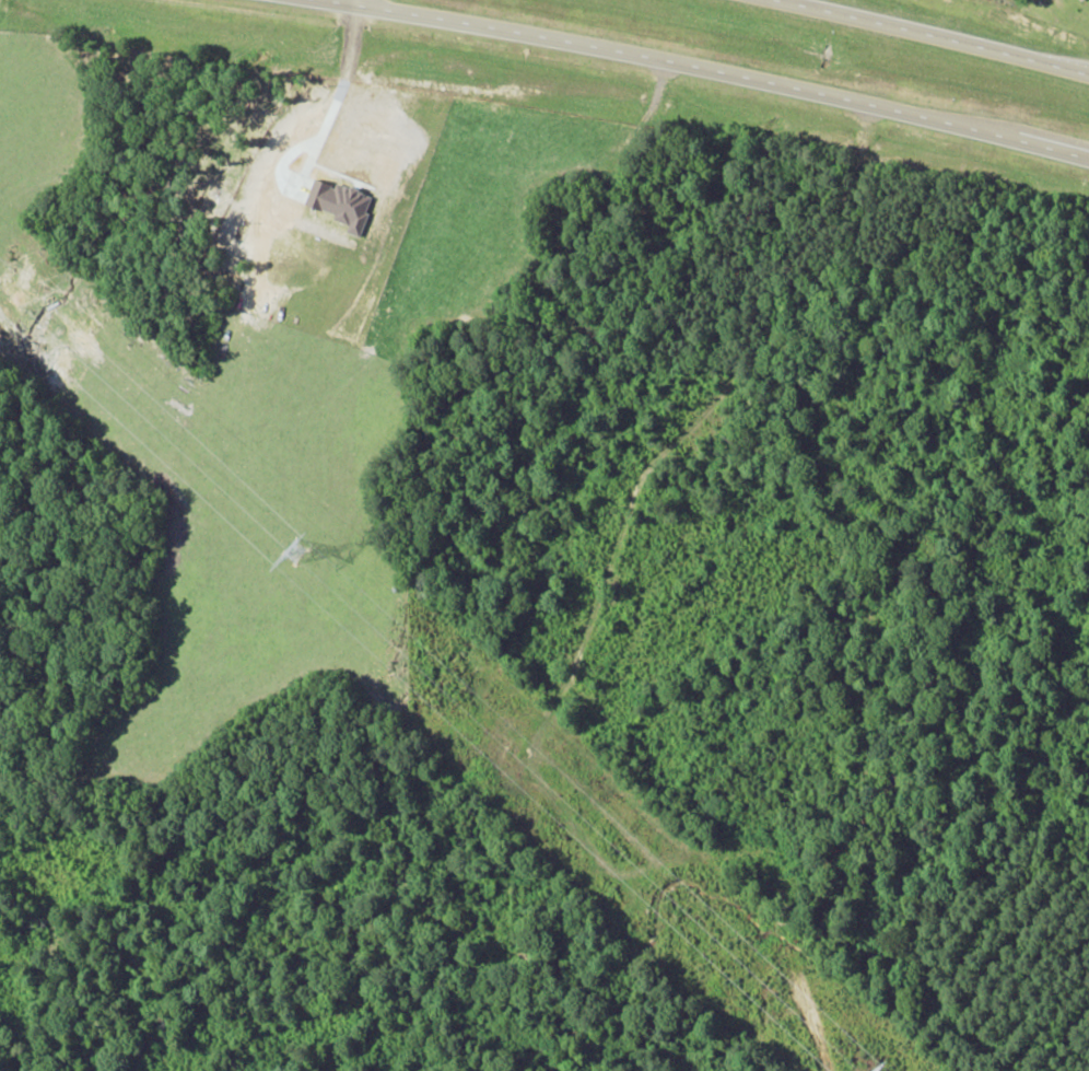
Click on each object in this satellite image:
building: (1080, 0)
road: (350, 2)
road: (928, 35)
road: (704, 70)
power tower: (298, 555)

